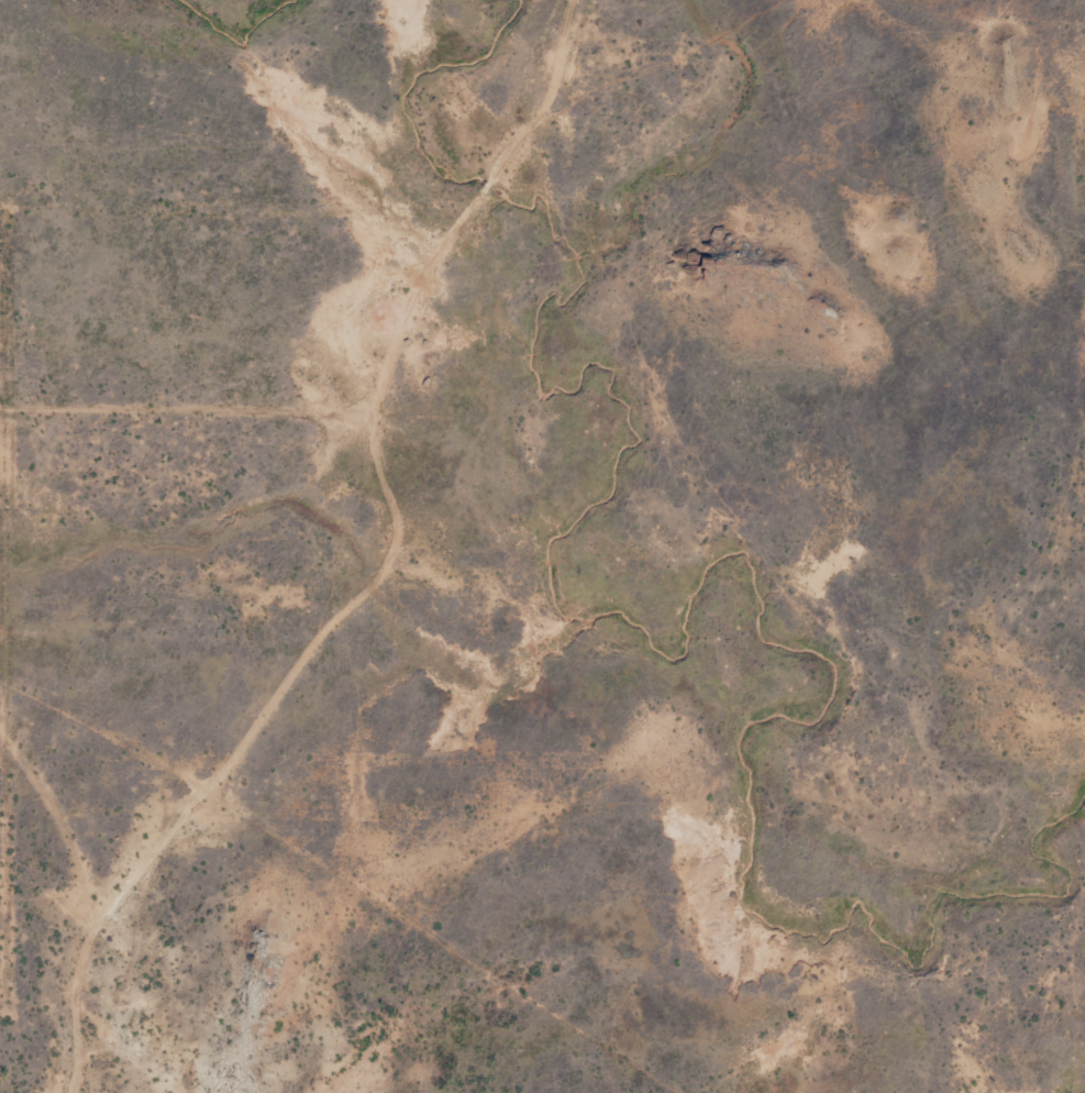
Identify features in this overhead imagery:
road: (381, 568)
road: (334, 1090)

